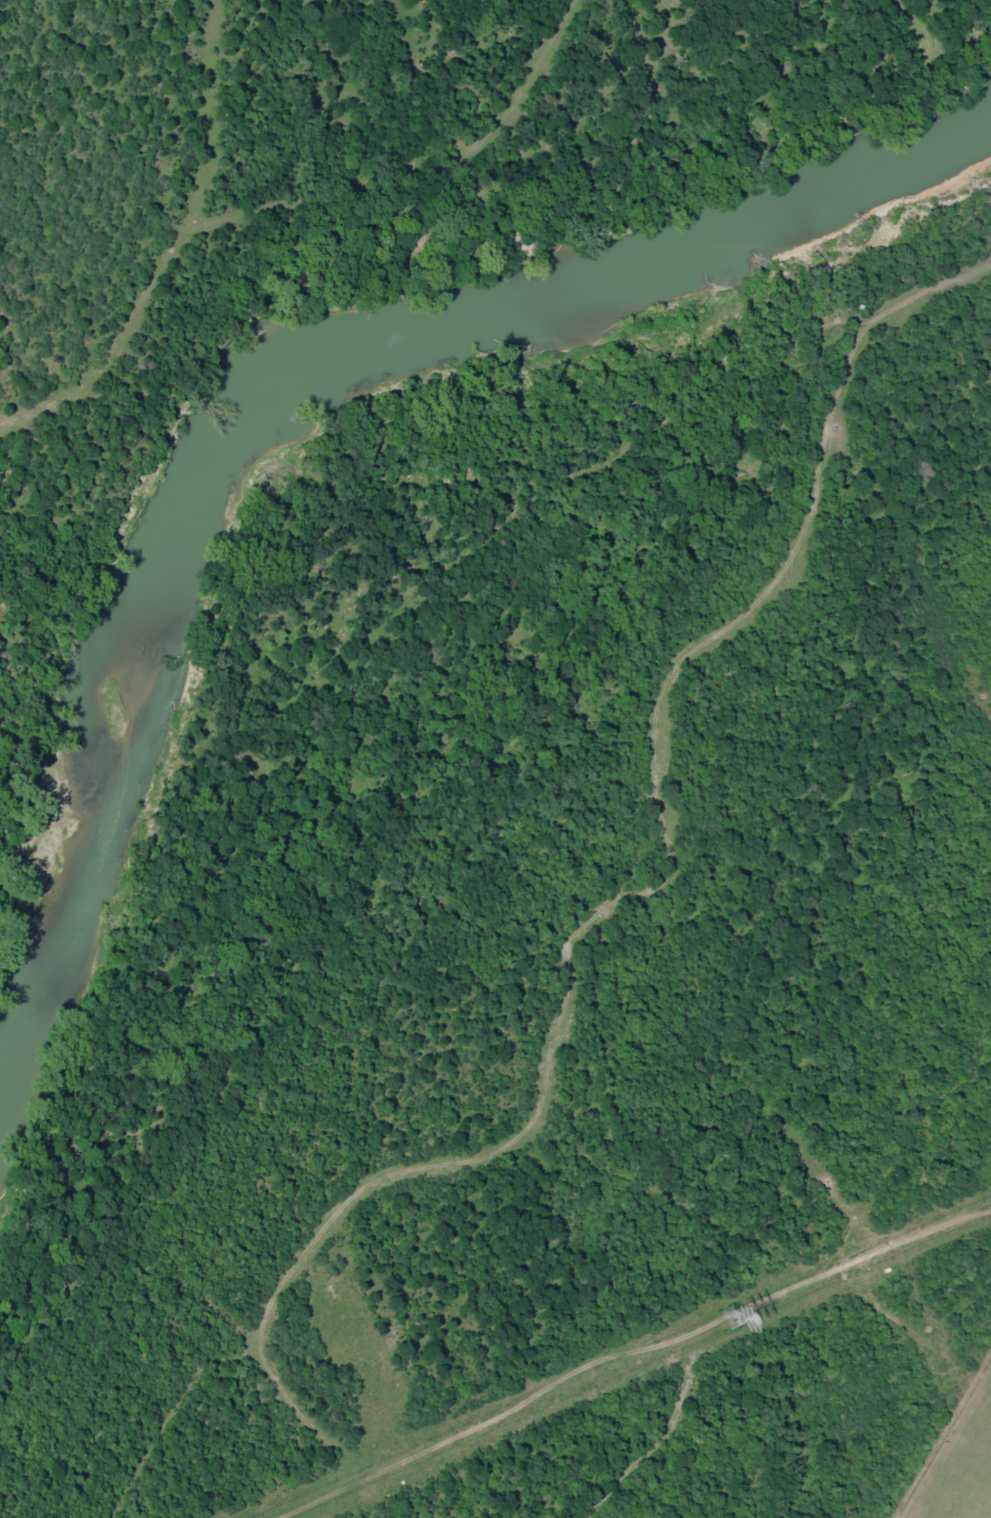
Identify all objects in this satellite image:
river: (424, 394)
road: (29, 433)
road: (592, 917)
power tower: (726, 1319)

